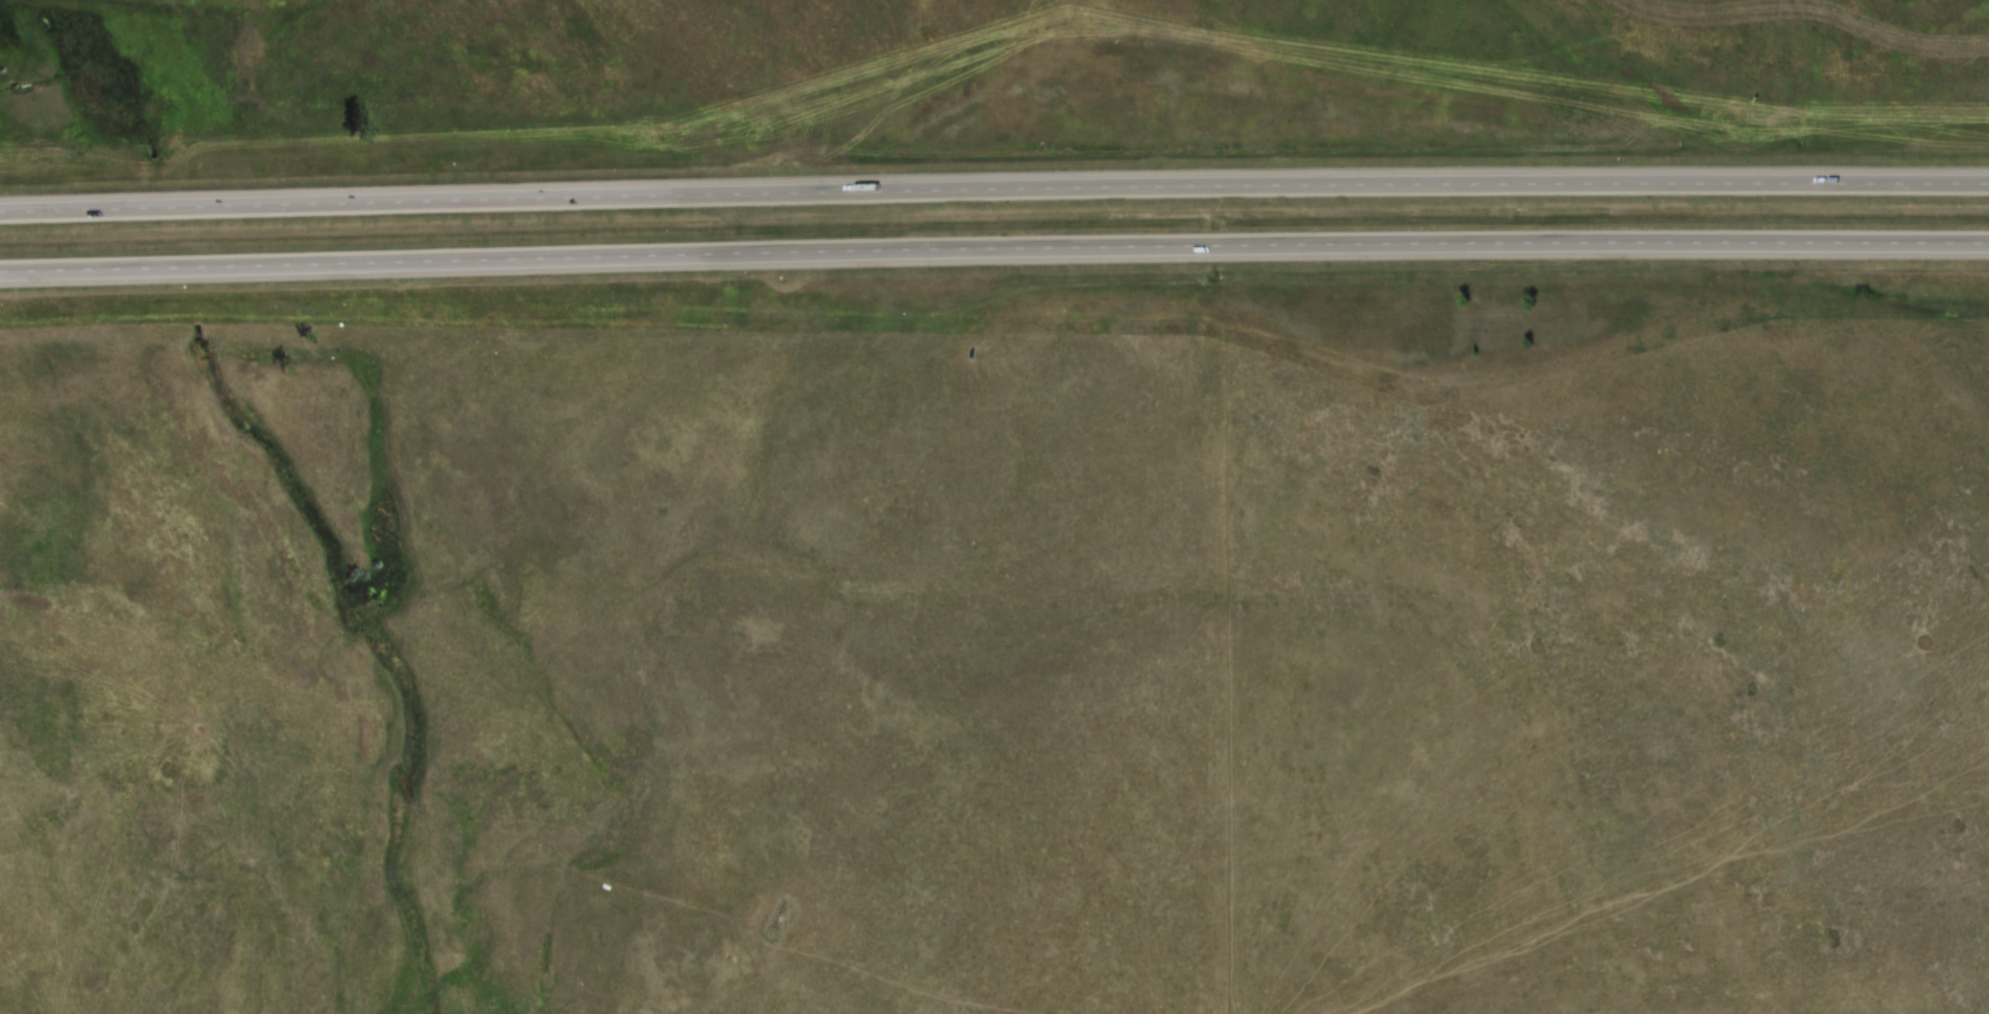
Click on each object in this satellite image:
road: (994, 190)
road: (994, 248)

